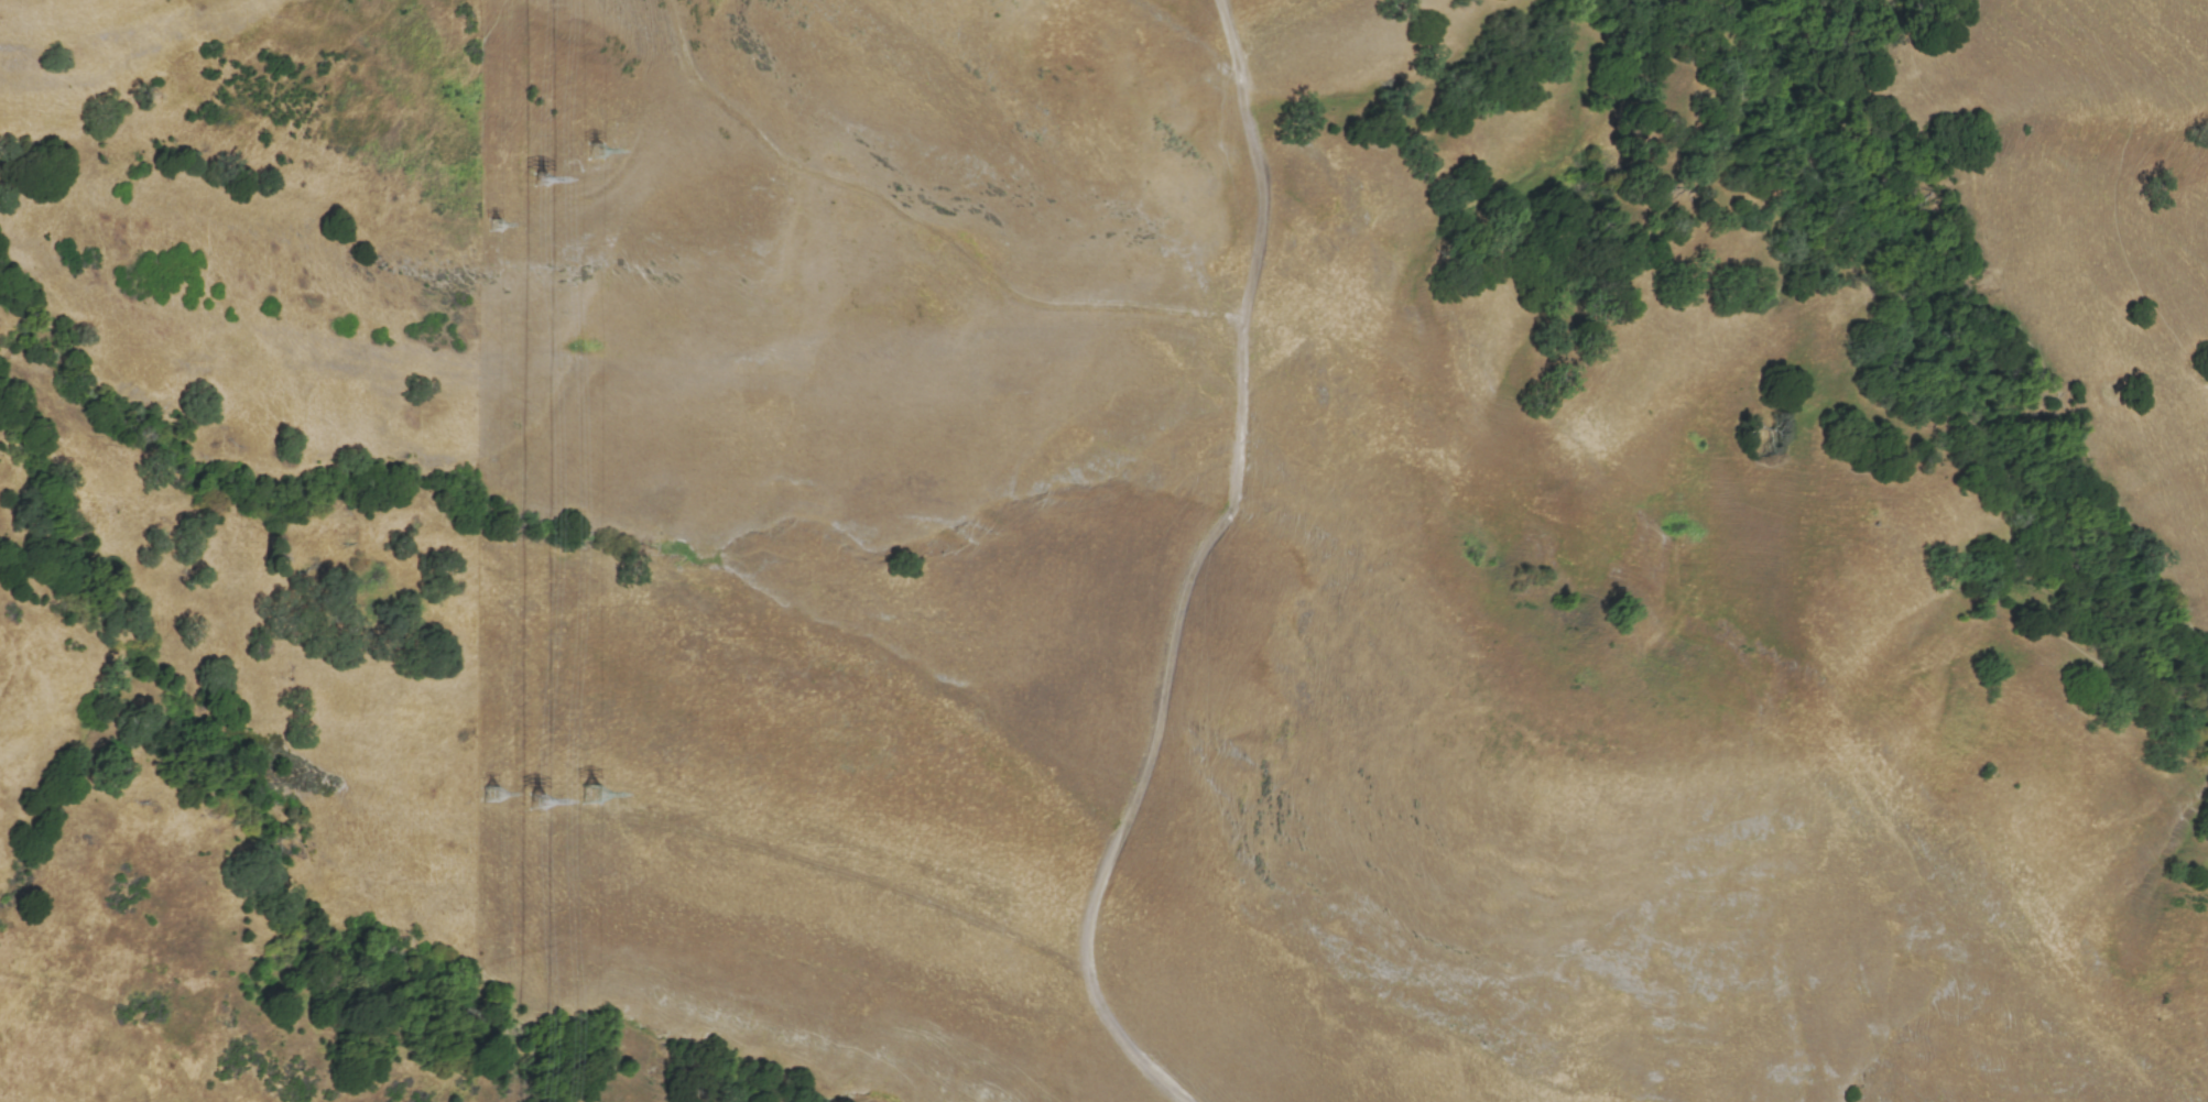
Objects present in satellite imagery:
power tower: (597, 152)
power tower: (544, 178)
power tower: (500, 220)
road: (1193, 569)
power tower: (594, 787)
power tower: (541, 796)
power tower: (494, 799)

